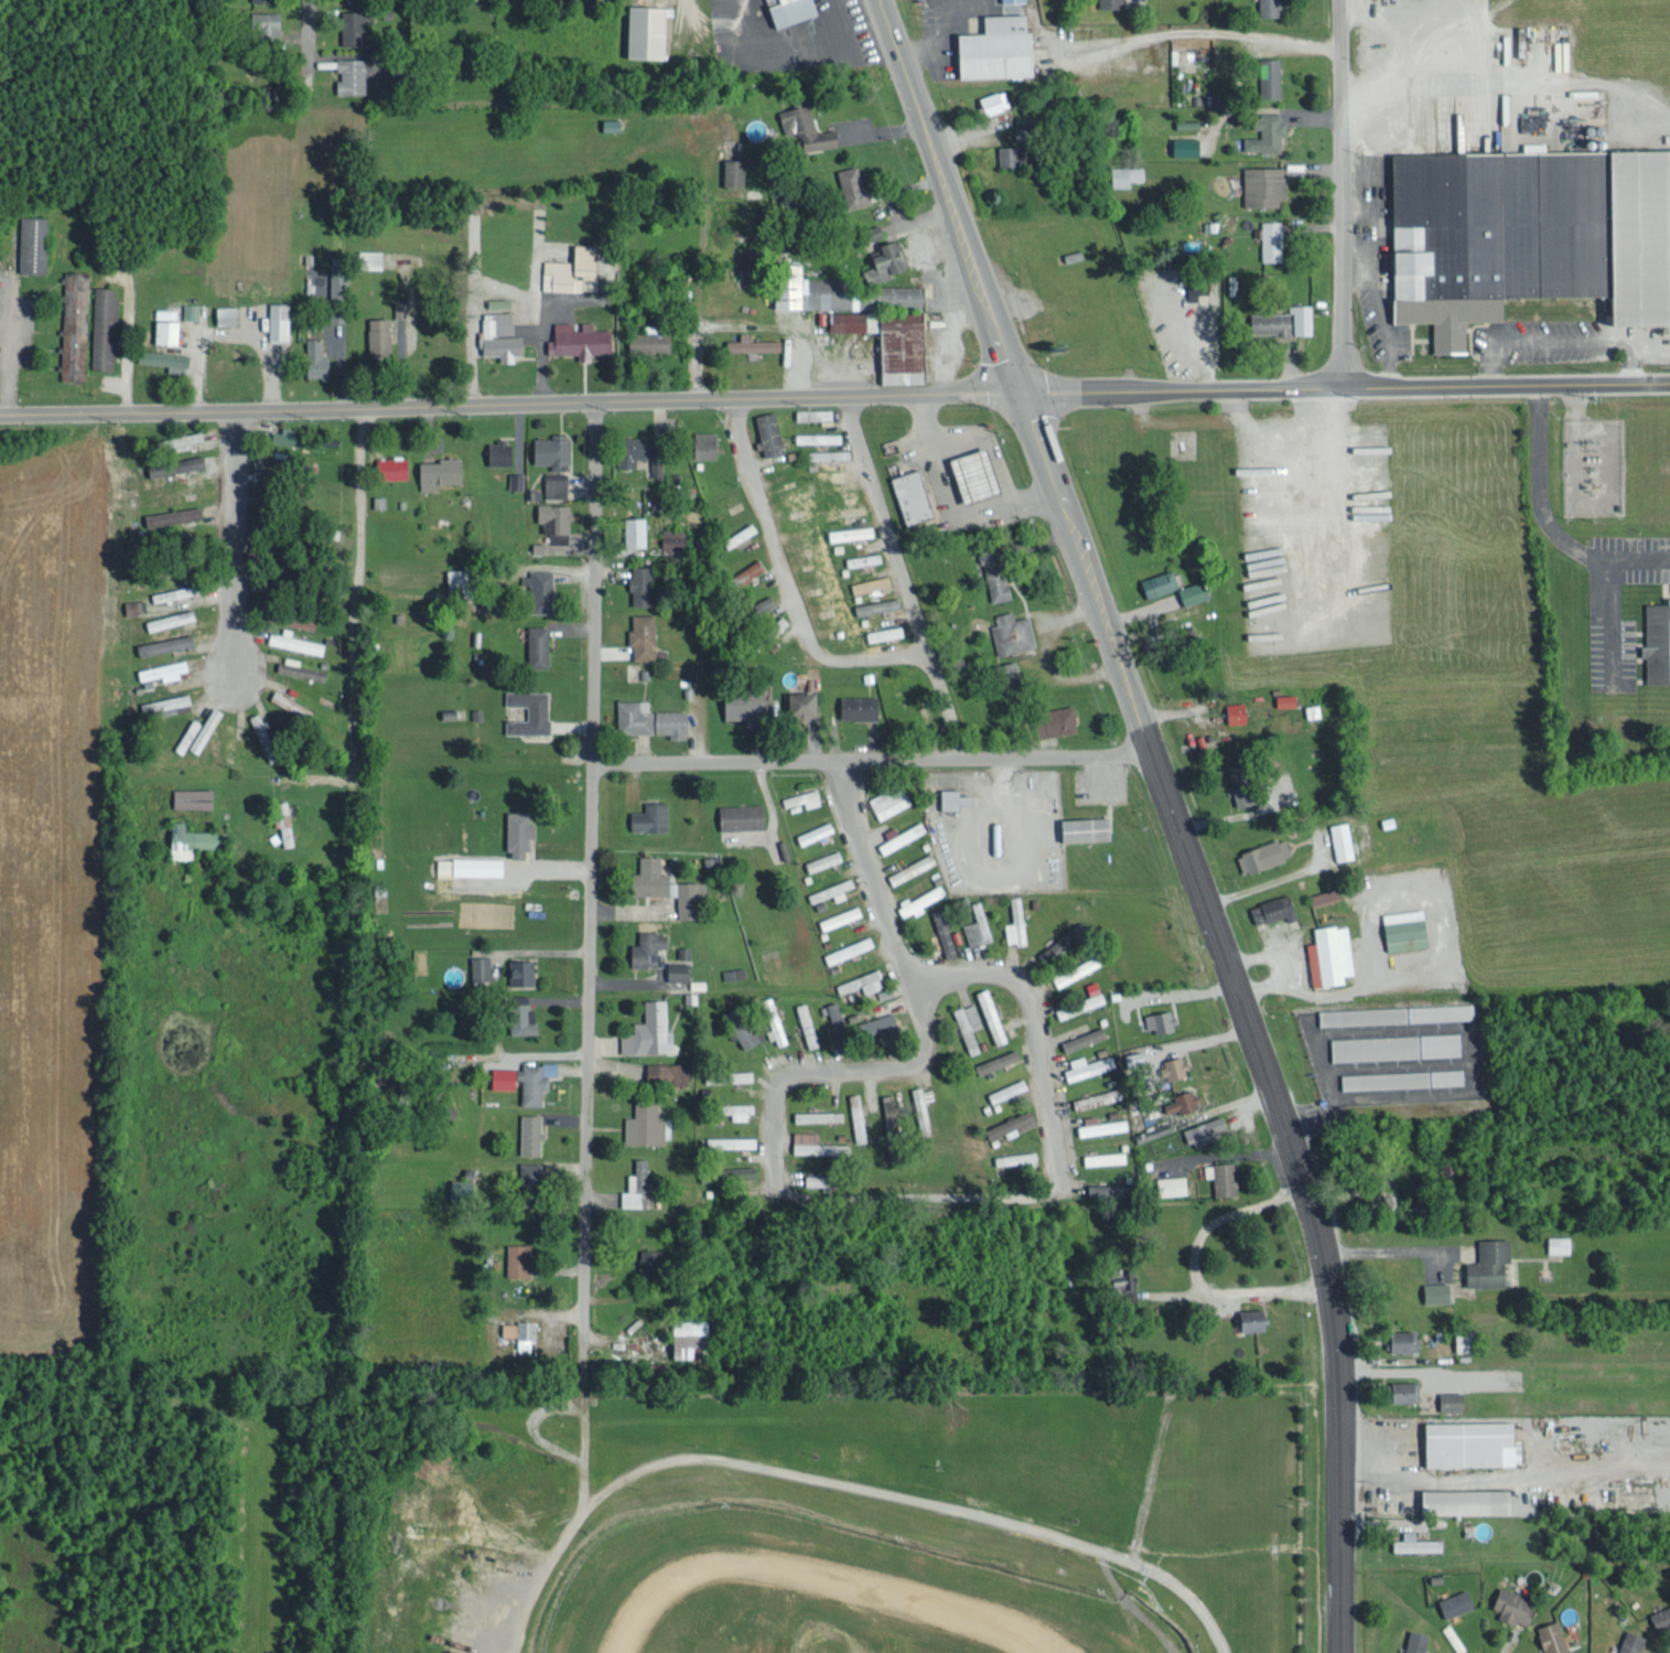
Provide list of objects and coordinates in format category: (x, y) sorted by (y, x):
building: (262, 0)
building: (1014, 0)
building: (1111, 2)
building: (1272, 7)
building: (790, 10)
road: (309, 17)
building: (266, 24)
building: (353, 26)
building: (648, 30)
building: (1000, 47)
building: (352, 74)
building: (1269, 76)
building: (379, 87)
building: (995, 100)
building: (1188, 121)
building: (612, 124)
building: (806, 127)
building: (754, 128)
building: (1024, 130)
building: (1265, 131)
building: (1187, 144)
building: (1534, 144)
building: (1008, 154)
building: (734, 171)
building: (1127, 174)
building: (853, 184)
building: (1264, 184)
road: (704, 191)
road: (1339, 193)
building: (757, 216)
building: (1528, 233)
building: (1272, 239)
building: (32, 243)
building: (367, 259)
building: (886, 260)
building: (573, 269)
building: (1199, 287)
building: (400, 308)
building: (188, 310)
building: (227, 313)
building: (279, 320)
building: (1284, 320)
building: (74, 324)
building: (104, 326)
building: (895, 330)
building: (168, 331)
building: (380, 335)
building: (500, 335)
building: (580, 339)
building: (650, 340)
building: (754, 342)
road: (3, 353)
building: (165, 358)
building: (316, 358)
traffic signals: (1013, 386)
road: (1342, 387)
road: (506, 398)
building: (814, 412)
building: (769, 432)
building: (817, 436)
building: (290, 438)
building: (177, 441)
building: (705, 443)
building: (638, 449)
building: (552, 450)
building: (499, 451)
building: (828, 453)
building: (196, 461)
building: (392, 466)
building: (656, 466)
building: (439, 471)
building: (838, 472)
building: (516, 479)
building: (268, 481)
building: (973, 481)
building: (556, 484)
building: (793, 490)
building: (914, 495)
road: (951, 498)
gas station: (912, 502)
building: (847, 509)
building: (173, 515)
building: (556, 520)
building: (635, 530)
building: (851, 532)
building: (741, 534)
road: (230, 539)
building: (674, 539)
building: (863, 558)
building: (752, 568)
building: (995, 572)
road: (899, 573)
road: (787, 576)
building: (461, 580)
building: (871, 582)
building: (1160, 582)
building: (642, 584)
road: (354, 587)
building: (541, 588)
building: (1194, 591)
building: (174, 592)
building: (765, 601)
building: (876, 604)
building: (885, 632)
building: (1012, 632)
building: (644, 634)
building: (183, 640)
building: (1656, 640)
building: (295, 641)
building: (539, 645)
building: (147, 646)
building: (300, 667)
building: (164, 669)
building: (1009, 670)
building: (1285, 699)
building: (166, 701)
building: (291, 702)
building: (805, 704)
building: (748, 706)
building: (859, 706)
building: (1313, 710)
building: (529, 711)
building: (1237, 711)
building: (635, 716)
building: (1059, 719)
building: (672, 722)
building: (261, 732)
building: (187, 734)
road: (869, 756)
building: (1242, 781)
building: (194, 796)
building: (955, 796)
building: (804, 797)
building: (891, 799)
road: (1167, 813)
building: (650, 815)
building: (743, 815)
building: (1088, 826)
building: (518, 828)
building: (284, 829)
building: (814, 831)
building: (902, 834)
building: (194, 838)
building: (1343, 839)
building: (1264, 854)
building: (823, 858)
building: (444, 863)
building: (478, 865)
road: (866, 865)
building: (912, 867)
building: (669, 885)
building: (833, 889)
building: (1325, 894)
building: (922, 898)
building: (1273, 908)
building: (841, 915)
building: (1015, 923)
building: (977, 924)
building: (1405, 927)
building: (942, 931)
building: (1063, 942)
building: (648, 946)
building: (849, 947)
building: (682, 951)
road: (589, 952)
building: (1332, 954)
building: (481, 966)
building: (1077, 968)
building: (521, 969)
building: (678, 969)
building: (732, 972)
building: (862, 980)
building: (1092, 986)
building: (1095, 998)
building: (1068, 1006)
building: (1396, 1012)
building: (991, 1015)
building: (522, 1019)
building: (1160, 1019)
building: (807, 1023)
building: (882, 1023)
building: (967, 1023)
building: (742, 1024)
building: (775, 1024)
building: (838, 1024)
building: (649, 1030)
building: (1082, 1037)
building: (1394, 1044)
building: (1135, 1056)
building: (998, 1060)
building: (1088, 1064)
building: (1174, 1066)
building: (667, 1071)
building: (728, 1074)
building: (1402, 1076)
building: (526, 1077)
building: (1008, 1088)
building: (1097, 1096)
building: (920, 1098)
building: (1182, 1101)
building: (741, 1108)
building: (891, 1114)
building: (817, 1115)
building: (858, 1121)
building: (1012, 1121)
building: (645, 1124)
building: (1100, 1124)
building: (1207, 1129)
building: (530, 1131)
building: (731, 1140)
building: (816, 1142)
building: (1016, 1156)
building: (1106, 1156)
building: (744, 1170)
building: (531, 1174)
building: (1222, 1176)
building: (819, 1179)
building: (637, 1182)
building: (1173, 1183)
building: (461, 1188)
building: (1110, 1191)
road: (881, 1195)
building: (1559, 1243)
building: (518, 1258)
building: (650, 1260)
building: (1490, 1262)
building: (1124, 1278)
building: (1436, 1291)
building: (1253, 1318)
building: (520, 1330)
building: (691, 1337)
building: (1403, 1339)
building: (1465, 1339)
building: (1405, 1389)
building: (1452, 1399)
building: (1472, 1441)
road: (839, 1484)
building: (1469, 1500)
building: (1416, 1542)
road: (258, 1547)
raceway: (822, 1576)
building: (1455, 1601)
building: (1513, 1604)
building: (1661, 1617)
building: (1553, 1636)
building: (1416, 1641)
building: (1630, 1641)

